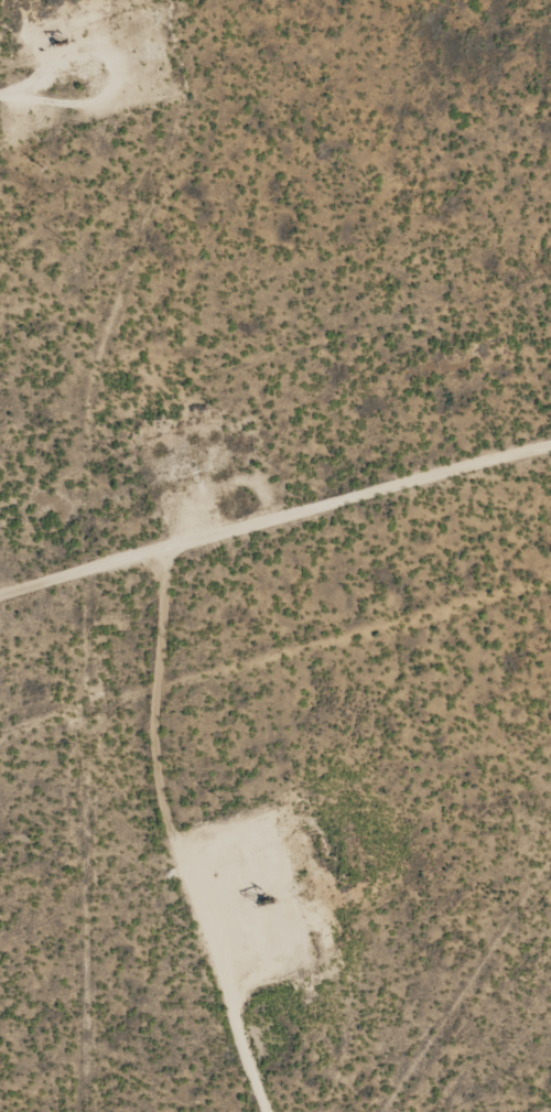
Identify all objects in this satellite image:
road: (275, 525)

